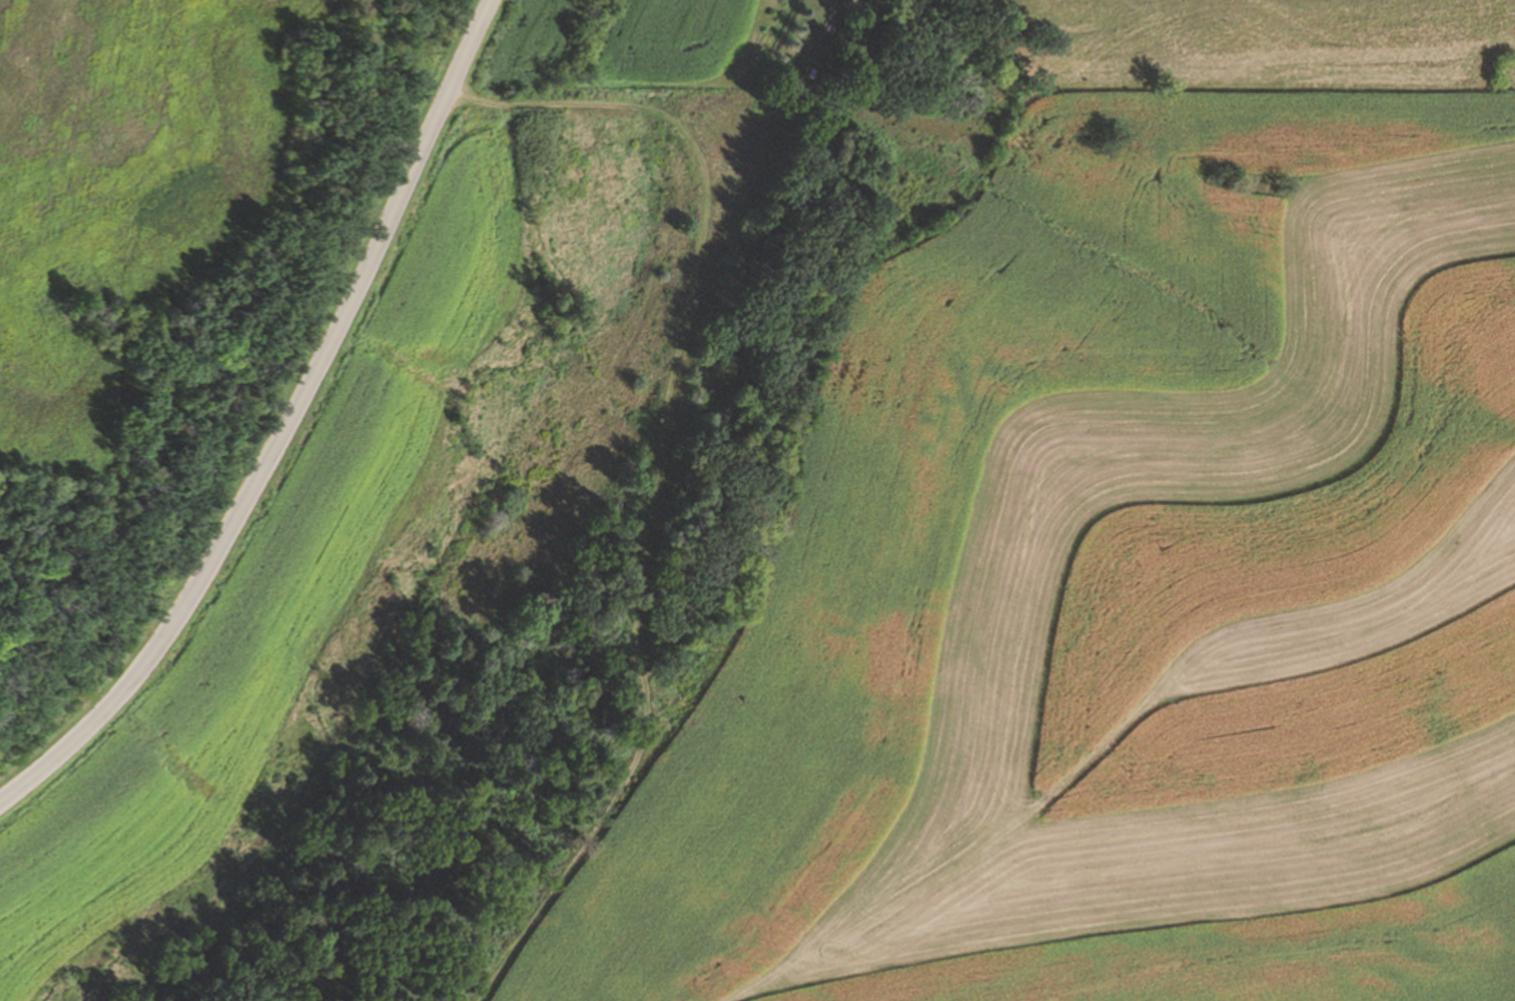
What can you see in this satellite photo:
road: (288, 431)

